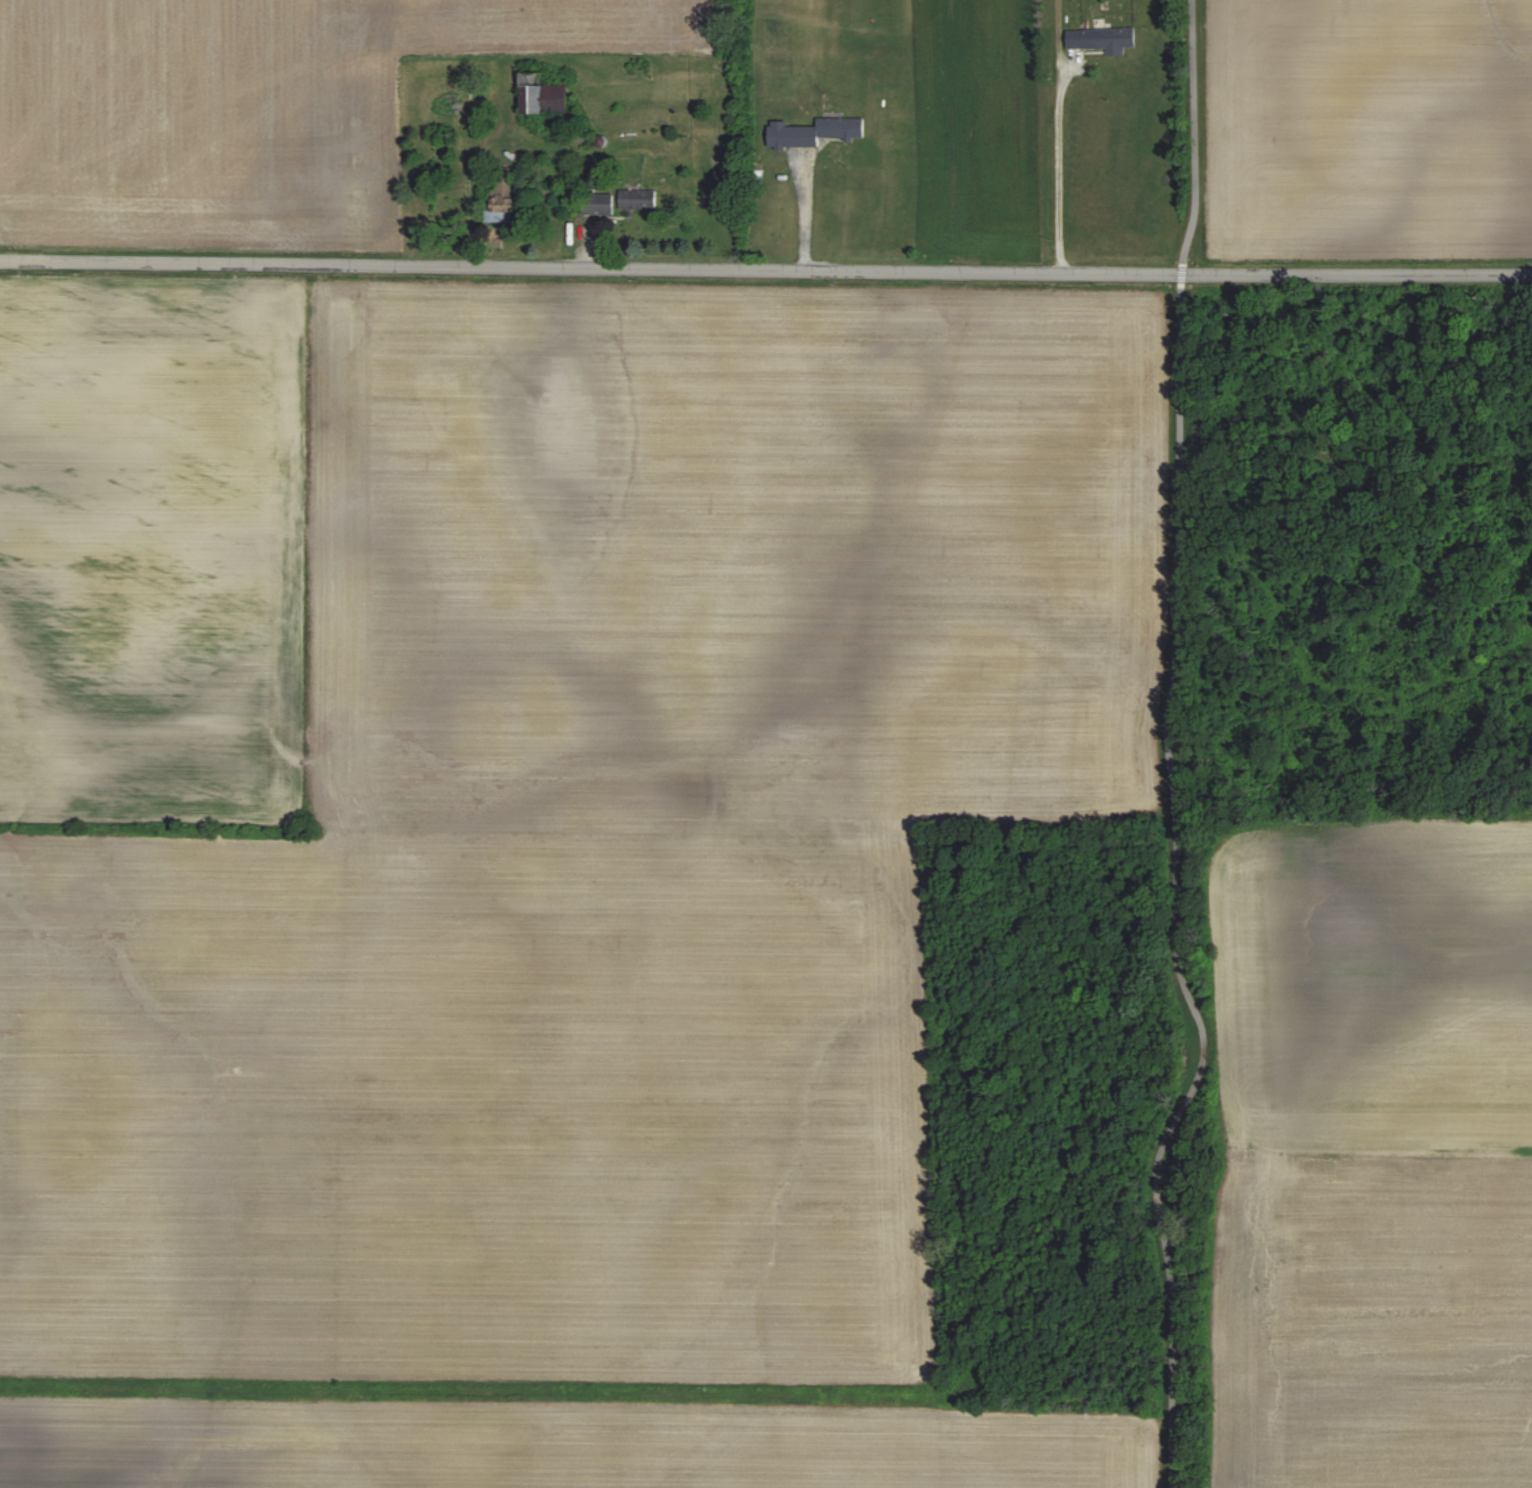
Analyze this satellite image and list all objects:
building: (1103, 38)
building: (543, 94)
road: (1192, 130)
building: (815, 131)
road: (1055, 137)
building: (638, 200)
building: (599, 203)
road: (805, 213)
road: (765, 271)
road: (1179, 271)
road: (1175, 893)

